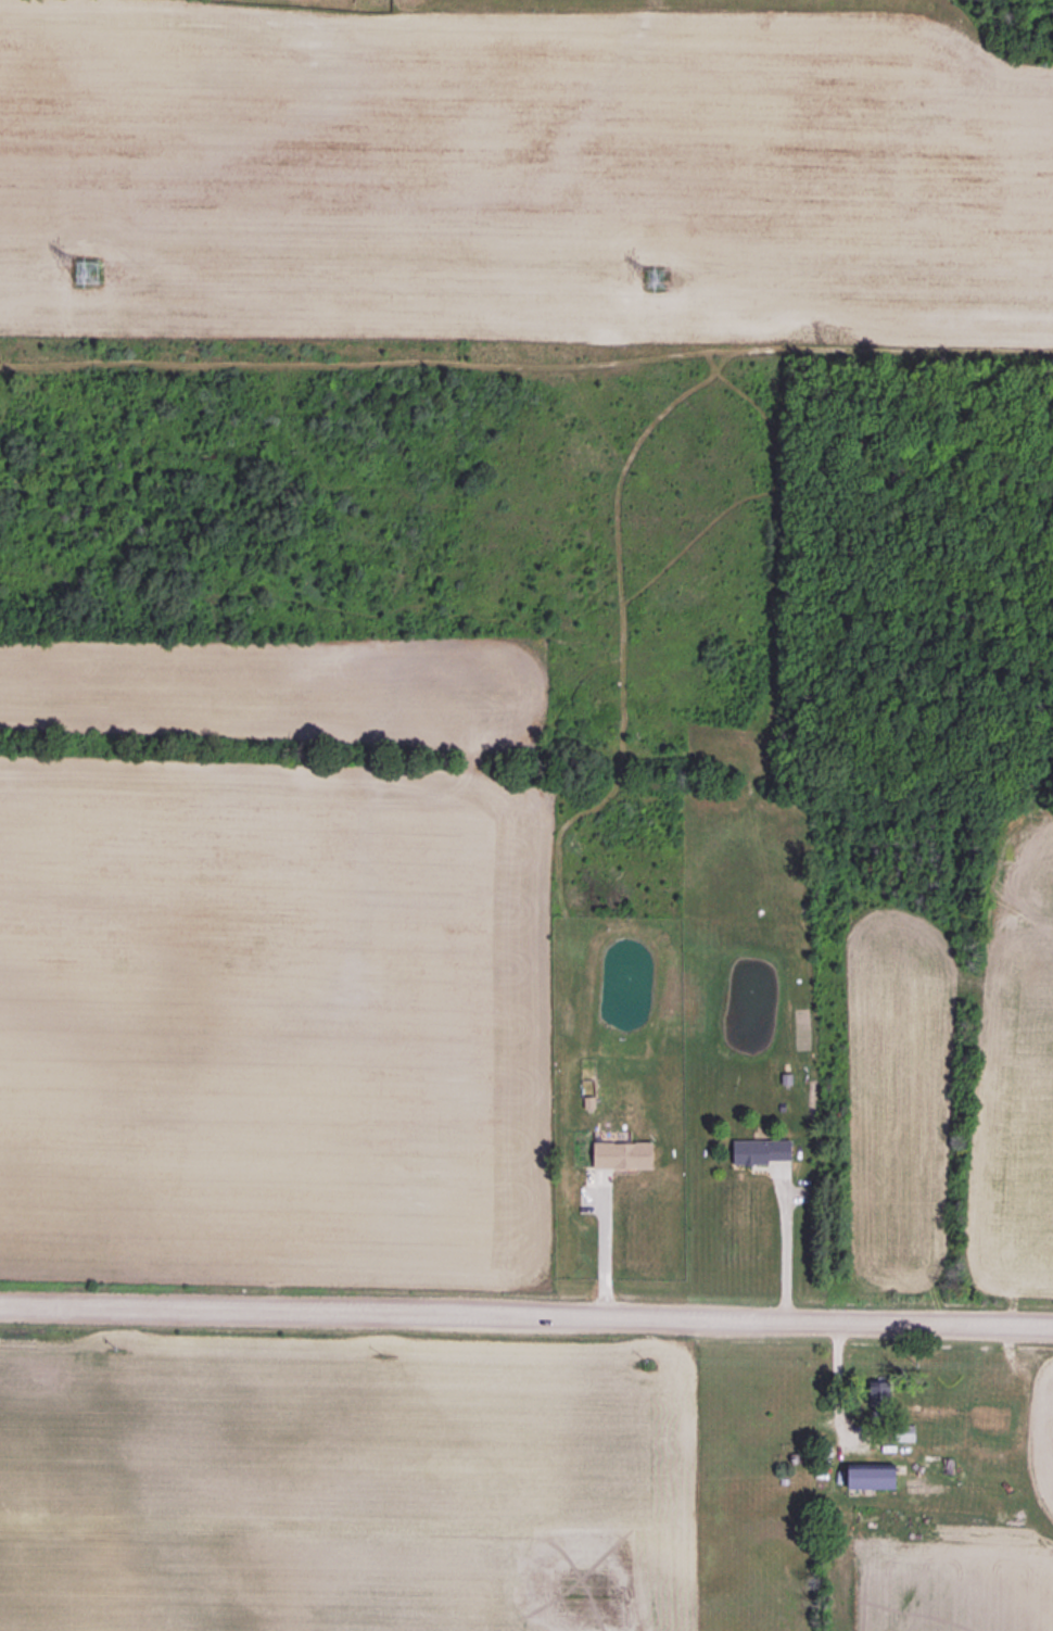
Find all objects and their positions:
power tower: (87, 271)
power tower: (655, 277)
building: (761, 1150)
building: (622, 1154)
road: (601, 1248)
road: (785, 1250)
road: (525, 1315)
road: (835, 1380)
building: (878, 1390)
building: (872, 1477)

